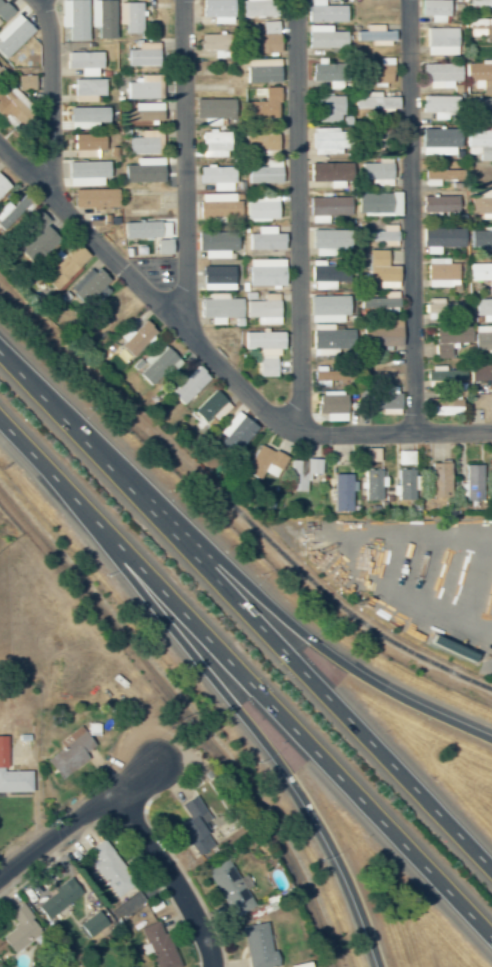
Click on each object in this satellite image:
building: (480, 4)
building: (256, 8)
building: (216, 9)
building: (432, 10)
building: (4, 12)
building: (325, 14)
building: (132, 17)
building: (479, 28)
building: (374, 35)
building: (326, 40)
building: (263, 41)
building: (439, 41)
building: (215, 42)
building: (22, 49)
building: (143, 58)
building: (83, 61)
building: (377, 72)
building: (262, 73)
building: (328, 73)
building: (439, 75)
building: (479, 75)
building: (23, 82)
building: (88, 88)
building: (142, 88)
road: (50, 100)
building: (375, 102)
building: (263, 105)
building: (437, 105)
building: (480, 106)
building: (13, 107)
building: (213, 108)
building: (329, 109)
building: (93, 115)
building: (327, 138)
building: (260, 143)
building: (479, 143)
building: (88, 144)
building: (144, 144)
building: (214, 144)
road: (183, 164)
building: (376, 172)
building: (332, 173)
building: (438, 174)
building: (215, 175)
building: (263, 175)
building: (1, 186)
building: (94, 199)
building: (377, 203)
building: (482, 203)
building: (143, 204)
building: (440, 204)
building: (218, 208)
building: (328, 208)
building: (261, 209)
building: (13, 211)
road: (413, 215)
road: (299, 216)
building: (35, 221)
building: (382, 235)
building: (481, 238)
building: (441, 239)
building: (265, 241)
building: (216, 242)
building: (162, 247)
building: (63, 266)
building: (379, 269)
building: (265, 273)
building: (441, 273)
building: (327, 274)
building: (481, 274)
building: (88, 286)
building: (387, 302)
building: (219, 309)
building: (441, 309)
building: (483, 309)
building: (262, 311)
building: (112, 312)
building: (381, 334)
building: (133, 337)
building: (482, 338)
building: (328, 339)
building: (449, 339)
building: (262, 341)
road: (217, 361)
building: (155, 363)
building: (266, 368)
building: (480, 371)
building: (443, 374)
building: (330, 375)
building: (188, 385)
building: (491, 386)
building: (384, 399)
building: (331, 405)
building: (444, 406)
building: (210, 407)
building: (370, 454)
building: (263, 462)
building: (300, 473)
building: (437, 479)
building: (472, 482)
building: (372, 484)
building: (404, 484)
building: (341, 492)
road: (232, 501)
park: (7, 517)
road: (252, 591)
road: (245, 621)
road: (245, 684)
road: (221, 693)
building: (68, 753)
building: (11, 775)
road: (75, 820)
building: (194, 826)
road: (121, 832)
building: (110, 869)
road: (170, 875)
road: (185, 875)
building: (228, 888)
building: (57, 899)
building: (132, 901)
building: (91, 924)
building: (19, 929)
building: (257, 946)

